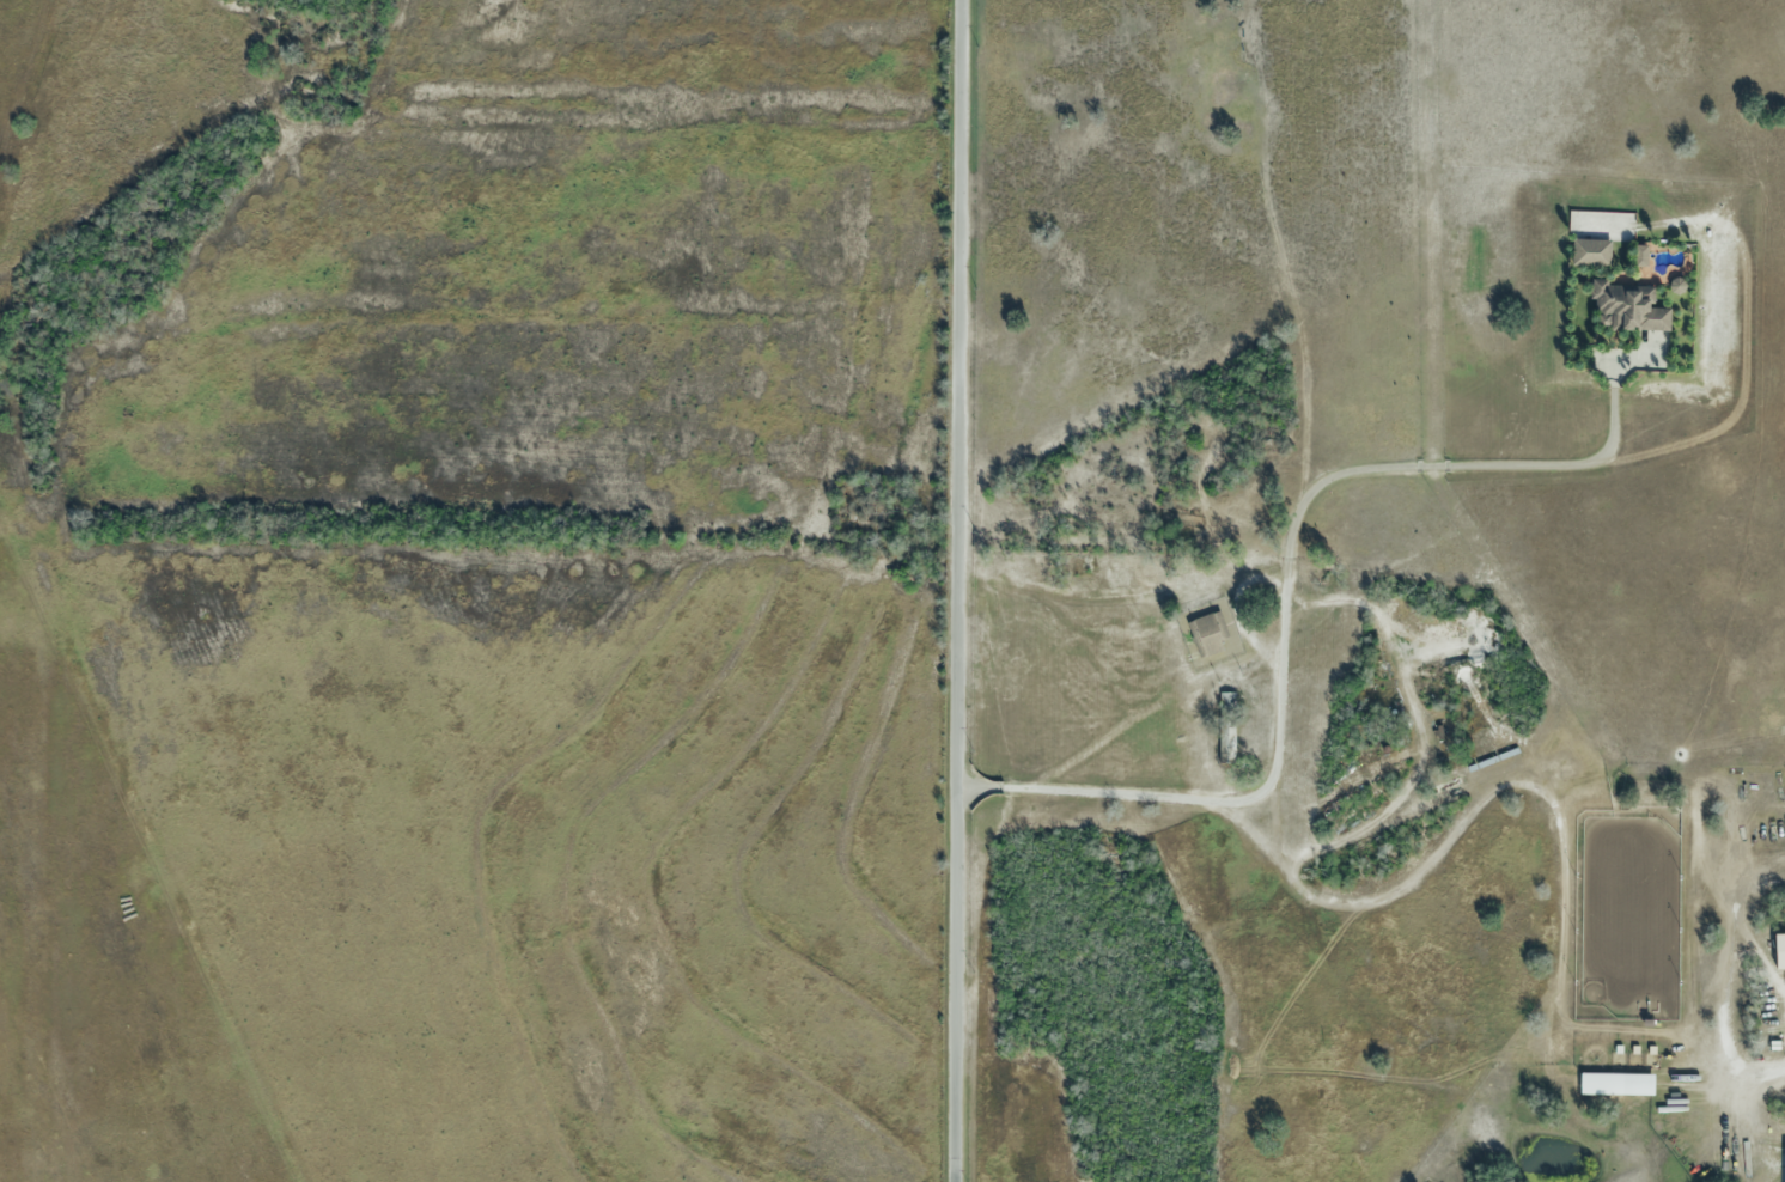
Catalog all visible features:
building: (1627, 306)
road: (968, 590)
building: (1225, 727)
building: (1366, 749)
building: (1446, 784)
building: (1779, 950)
building: (1616, 1083)

